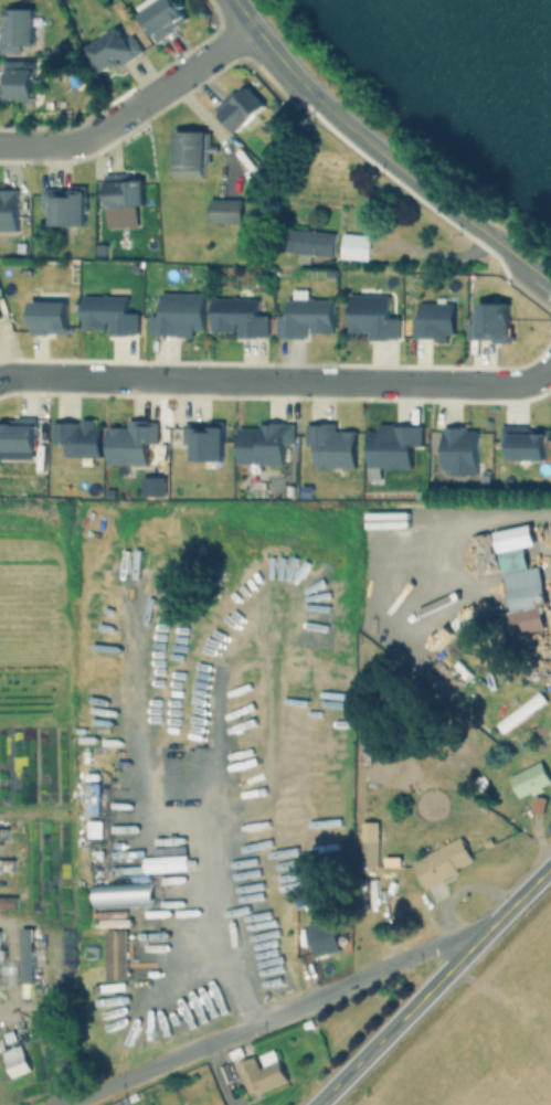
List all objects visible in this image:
building: (162, 18)
building: (15, 29)
road: (263, 45)
building: (112, 51)
building: (15, 81)
road: (130, 107)
building: (239, 108)
building: (188, 156)
road: (406, 173)
building: (121, 190)
building: (65, 204)
building: (8, 210)
building: (224, 211)
building: (309, 241)
building: (353, 246)
road: (436, 251)
building: (328, 274)
road: (531, 275)
building: (428, 312)
building: (108, 314)
building: (178, 315)
building: (237, 315)
building: (371, 315)
building: (47, 316)
building: (304, 318)
building: (491, 321)
road: (278, 381)
building: (17, 434)
building: (77, 436)
building: (203, 439)
building: (131, 442)
building: (263, 443)
building: (523, 443)
building: (392, 444)
building: (331, 446)
building: (459, 449)
building: (305, 490)
building: (523, 588)
building: (383, 617)
building: (532, 778)
crop: (35, 806)
building: (2, 833)
building: (367, 854)
building: (442, 863)
building: (8, 904)
road: (215, 921)
building: (321, 938)
building: (116, 955)
building: (27, 957)
road: (434, 987)
road: (271, 1017)
crop: (480, 1032)
building: (15, 1062)
building: (262, 1073)
road: (221, 1074)

